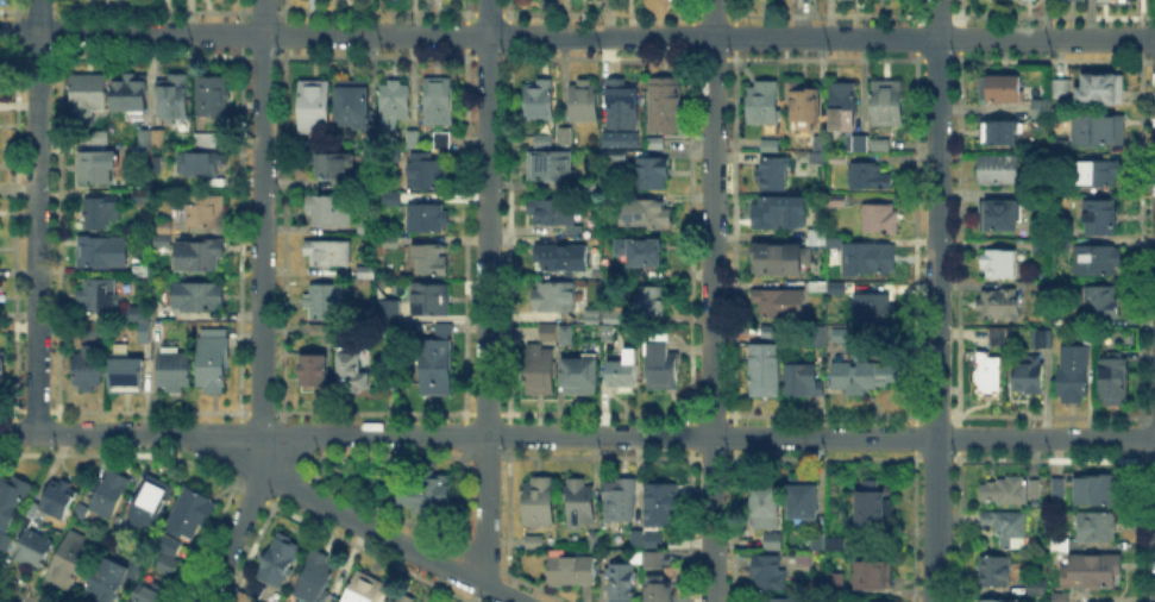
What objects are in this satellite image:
building: (584, 0)
building: (1112, 0)
building: (1029, 1)
building: (1071, 2)
road: (488, 18)
road: (936, 19)
road: (244, 35)
road: (711, 36)
road: (1046, 38)
building: (1057, 86)
building: (1000, 89)
building: (1065, 90)
building: (1104, 90)
building: (87, 96)
building: (130, 96)
building: (213, 98)
building: (172, 99)
building: (354, 100)
building: (440, 100)
building: (536, 101)
building: (585, 102)
building: (765, 102)
building: (887, 104)
building: (394, 105)
building: (623, 106)
building: (665, 106)
building: (804, 107)
building: (314, 108)
building: (843, 108)
building: (1042, 112)
building: (1096, 128)
building: (998, 132)
building: (152, 137)
building: (566, 138)
building: (98, 139)
building: (412, 140)
building: (441, 140)
building: (605, 140)
building: (206, 142)
building: (542, 142)
building: (812, 143)
building: (880, 143)
building: (654, 144)
building: (855, 144)
building: (770, 145)
building: (1057, 146)
building: (620, 157)
building: (817, 159)
building: (200, 165)
building: (335, 165)
building: (996, 167)
building: (96, 168)
building: (550, 168)
building: (1098, 174)
building: (653, 175)
building: (773, 175)
building: (427, 176)
building: (870, 177)
building: (584, 183)
building: (142, 199)
building: (391, 199)
building: (609, 200)
building: (1038, 209)
building: (329, 211)
building: (206, 212)
building: (552, 212)
building: (102, 213)
building: (780, 214)
road: (36, 215)
road: (260, 217)
building: (646, 217)
building: (425, 218)
building: (999, 218)
building: (1101, 218)
building: (880, 220)
building: (365, 228)
building: (575, 231)
building: (161, 233)
road: (936, 238)
building: (393, 243)
building: (1059, 246)
building: (1035, 247)
building: (644, 252)
building: (103, 253)
building: (329, 253)
building: (200, 255)
building: (779, 257)
building: (427, 259)
building: (558, 259)
building: (868, 259)
building: (1096, 259)
building: (1000, 263)
building: (142, 272)
building: (366, 272)
building: (828, 288)
building: (199, 296)
building: (554, 296)
building: (99, 297)
road: (711, 301)
building: (325, 302)
building: (432, 302)
building: (1098, 302)
building: (777, 303)
building: (640, 306)
building: (999, 306)
road: (485, 307)
building: (385, 308)
building: (873, 309)
building: (134, 314)
building: (591, 318)
building: (158, 320)
building: (322, 330)
building: (444, 330)
building: (95, 331)
building: (605, 332)
building: (142, 333)
building: (768, 333)
building: (557, 334)
building: (820, 337)
building: (843, 337)
building: (998, 339)
building: (1040, 340)
building: (213, 360)
building: (661, 364)
building: (437, 366)
building: (88, 368)
building: (174, 368)
building: (349, 370)
building: (4, 371)
building: (764, 371)
building: (127, 372)
building: (314, 372)
building: (540, 372)
building: (622, 374)
building: (1072, 375)
building: (867, 376)
building: (990, 376)
building: (1029, 376)
building: (582, 377)
building: (801, 378)
building: (1112, 380)
road: (467, 434)
road: (1046, 438)
road: (260, 441)
building: (1056, 488)
building: (1010, 491)
building: (1096, 491)
building: (109, 494)
building: (428, 494)
building: (803, 498)
building: (10, 500)
building: (55, 500)
building: (620, 501)
building: (539, 502)
building: (766, 502)
building: (151, 503)
building: (582, 504)
building: (661, 506)
building: (872, 508)
building: (80, 513)
building: (190, 513)
road: (935, 520)
road: (227, 526)
building: (1006, 527)
building: (1097, 529)
road: (384, 532)
building: (635, 539)
building: (653, 540)
building: (596, 541)
building: (772, 541)
building: (816, 543)
building: (835, 543)
building: (2, 544)
building: (167, 544)
building: (535, 544)
building: (1059, 545)
building: (30, 548)
building: (68, 559)
building: (280, 559)
building: (652, 559)
building: (167, 565)
building: (573, 567)
building: (993, 571)
building: (770, 573)
building: (872, 573)
building: (1090, 575)
building: (109, 577)
building: (834, 578)
building: (318, 579)
building: (622, 581)
building: (365, 587)
building: (1036, 588)
building: (659, 590)
building: (256, 591)
building: (150, 592)
building: (397, 597)
road: (2, 600)
building: (778, 601)
building: (879, 601)
building: (993, 601)

